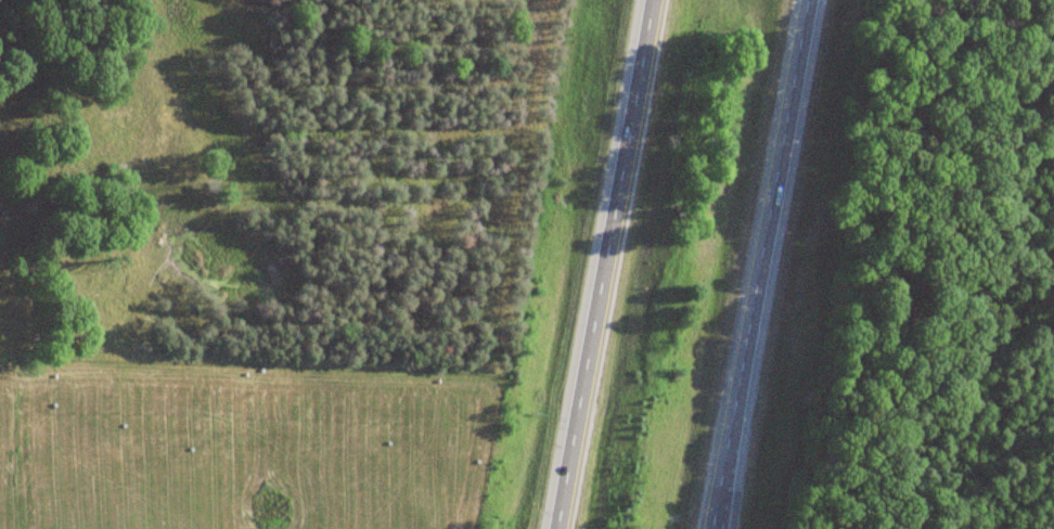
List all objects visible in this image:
road: (605, 264)
road: (762, 264)

